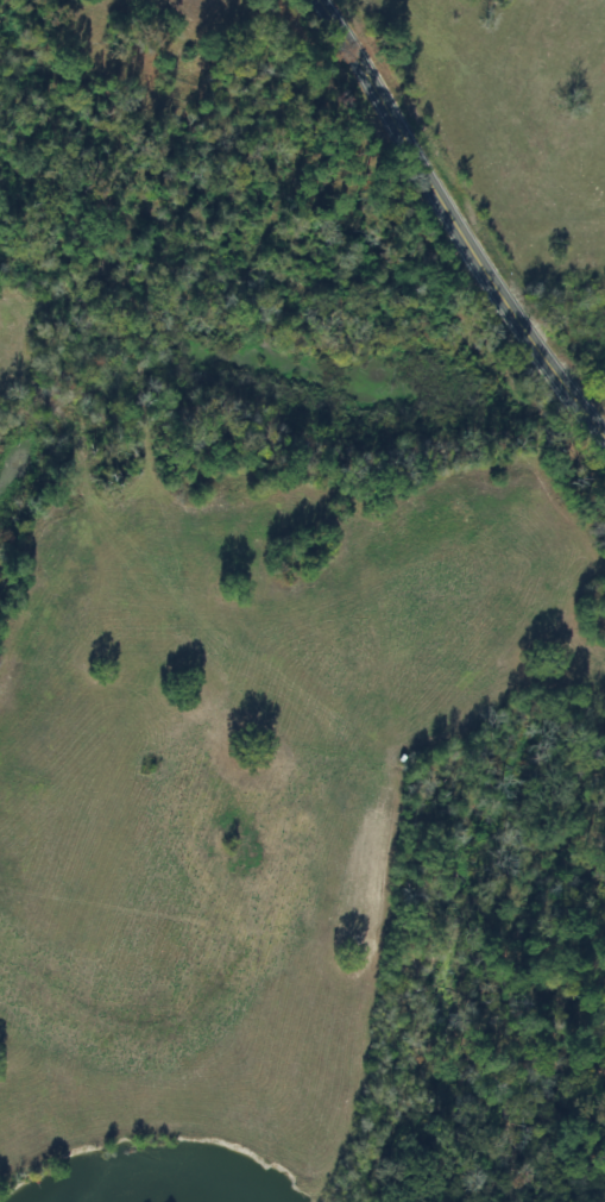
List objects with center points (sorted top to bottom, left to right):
road: (450, 224)

